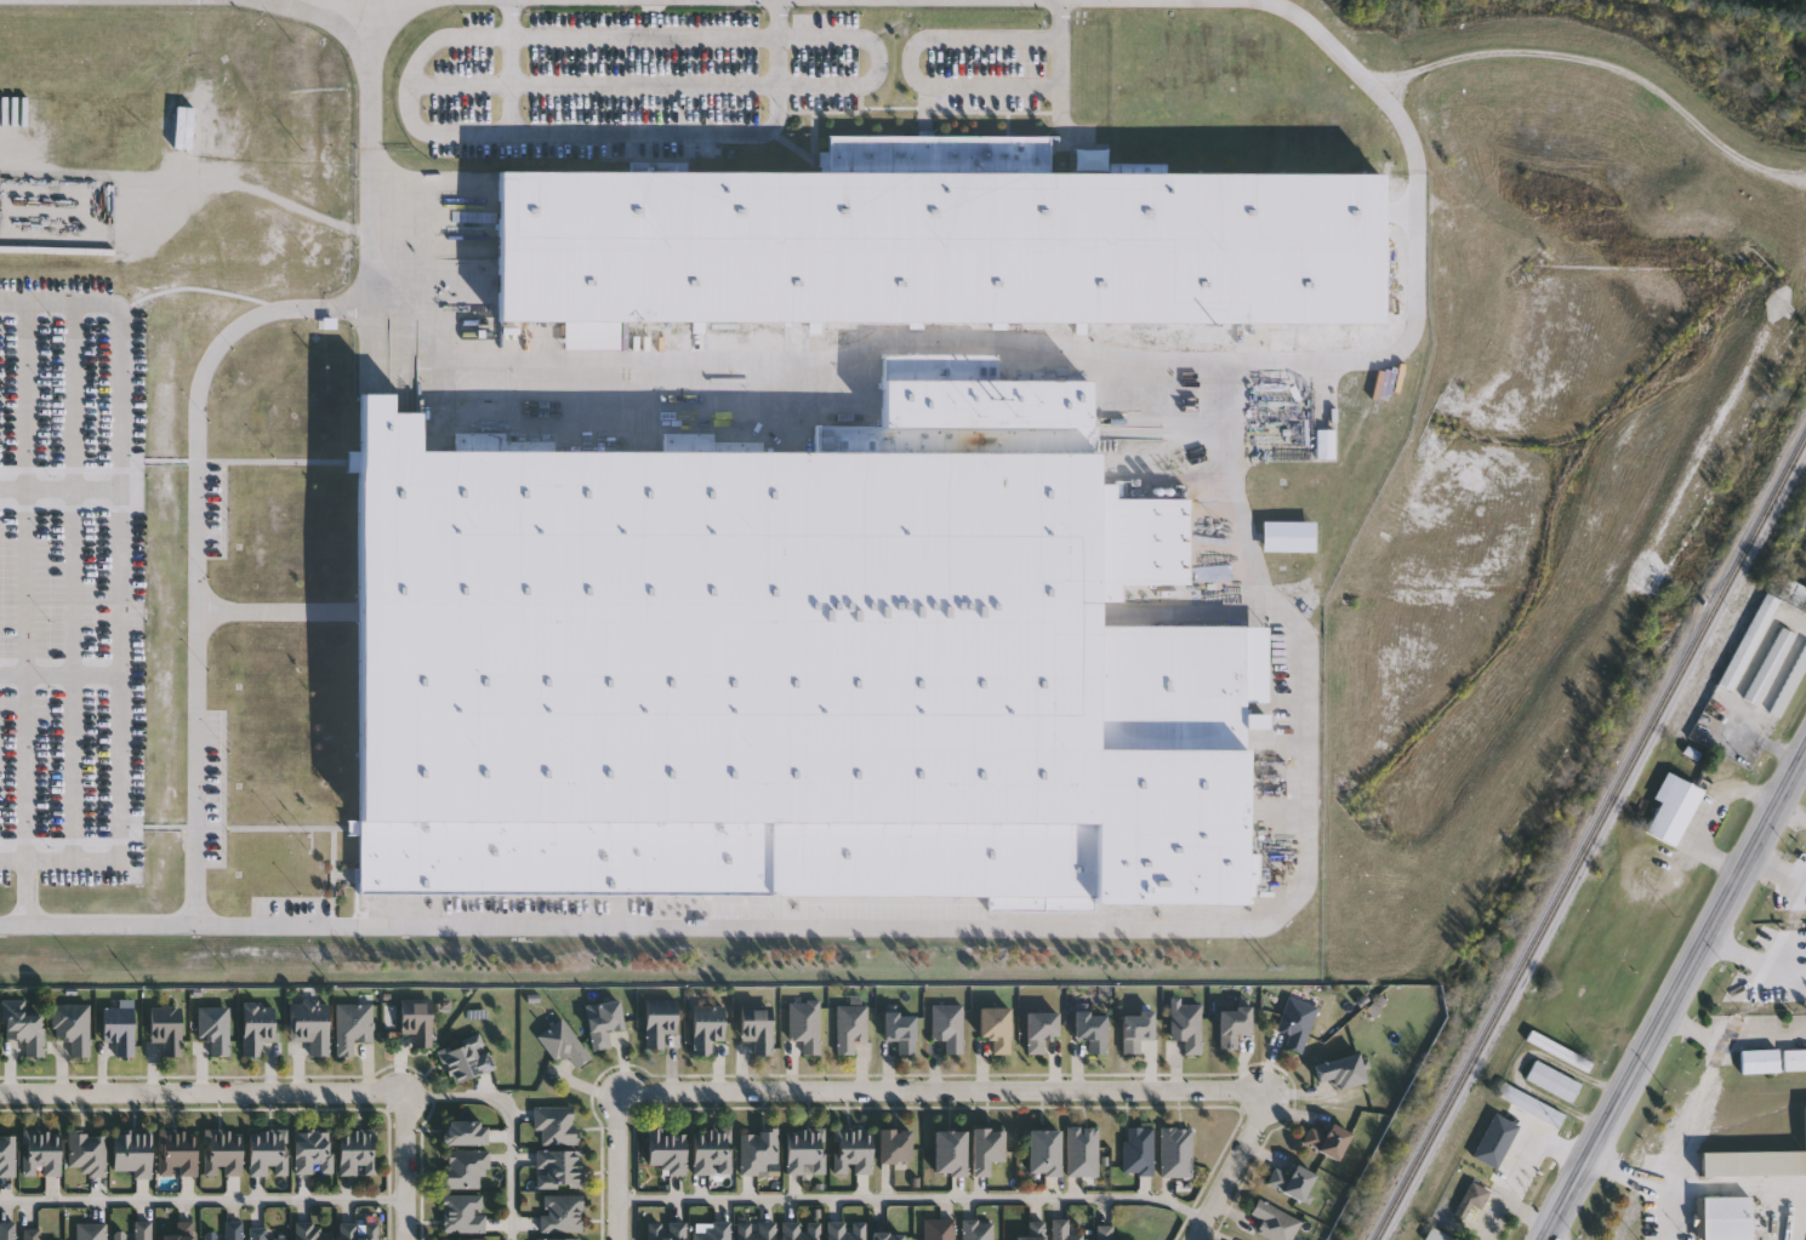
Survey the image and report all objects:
road: (374, 0)
road: (780, 17)
road: (1059, 19)
road: (580, 35)
road: (1323, 39)
road: (779, 61)
road: (879, 61)
road: (1605, 63)
road: (508, 67)
road: (917, 81)
road: (594, 86)
road: (593, 132)
building: (935, 240)
road: (327, 305)
road: (847, 384)
road: (57, 486)
road: (22, 578)
road: (68, 578)
road: (115, 579)
building: (1794, 594)
road: (195, 621)
building: (1750, 641)
building: (1771, 665)
building: (790, 667)
road: (57, 672)
building: (1790, 686)
road: (1793, 811)
building: (1681, 813)
railway: (1595, 839)
road: (1778, 867)
road: (23, 890)
road: (948, 915)
railway: (1646, 936)
road: (1756, 960)
road: (1676, 998)
building: (416, 1022)
building: (602, 1022)
building: (657, 1022)
building: (1295, 1022)
building: (804, 1024)
building: (1232, 1024)
building: (23, 1025)
building: (72, 1025)
building: (309, 1025)
building: (352, 1025)
building: (849, 1025)
building: (947, 1025)
building: (1186, 1025)
building: (257, 1027)
building: (995, 1027)
building: (118, 1028)
building: (165, 1028)
building: (213, 1028)
building: (706, 1028)
building: (756, 1028)
building: (1039, 1028)
building: (1135, 1028)
building: (900, 1029)
building: (1090, 1029)
road: (1734, 1034)
building: (562, 1044)
building: (1561, 1052)
building: (465, 1058)
building: (1761, 1062)
building: (1795, 1062)
building: (1340, 1069)
building: (1555, 1081)
road: (201, 1091)
road: (941, 1091)
building: (1532, 1105)
road: (515, 1118)
building: (554, 1125)
building: (463, 1132)
building: (1327, 1139)
building: (893, 1145)
building: (666, 1149)
building: (985, 1149)
building: (1136, 1149)
building: (712, 1150)
building: (805, 1150)
building: (851, 1150)
building: (1042, 1150)
building: (1082, 1150)
building: (131, 1152)
building: (176, 1152)
building: (221, 1152)
building: (312, 1152)
building: (358, 1152)
building: (757, 1152)
building: (948, 1152)
building: (1175, 1152)
building: (6, 1153)
building: (40, 1153)
building: (85, 1153)
building: (267, 1153)
building: (1754, 1164)
road: (404, 1165)
road: (616, 1165)
road: (1227, 1165)
building: (558, 1168)
building: (465, 1170)
road: (1658, 1179)
building: (1292, 1181)
road: (910, 1199)
road: (203, 1200)
building: (1474, 1200)
building: (462, 1213)
building: (560, 1213)
road: (1781, 1215)
building: (1726, 1218)
building: (1274, 1222)
building: (938, 1229)
building: (6, 1230)
building: (90, 1230)
building: (355, 1230)
building: (667, 1230)
building: (756, 1230)
building: (799, 1230)
building: (844, 1230)
building: (976, 1230)
building: (1062, 1230)
building: (135, 1232)
building: (178, 1232)
building: (226, 1232)
building: (312, 1232)
building: (712, 1232)
building: (1032, 1232)
building: (1105, 1233)
building: (32, 1234)
building: (258, 1234)
building: (885, 1235)
building: (1437, 1236)
building: (466, 1239)
building: (559, 1239)
road: (1549, 1239)

